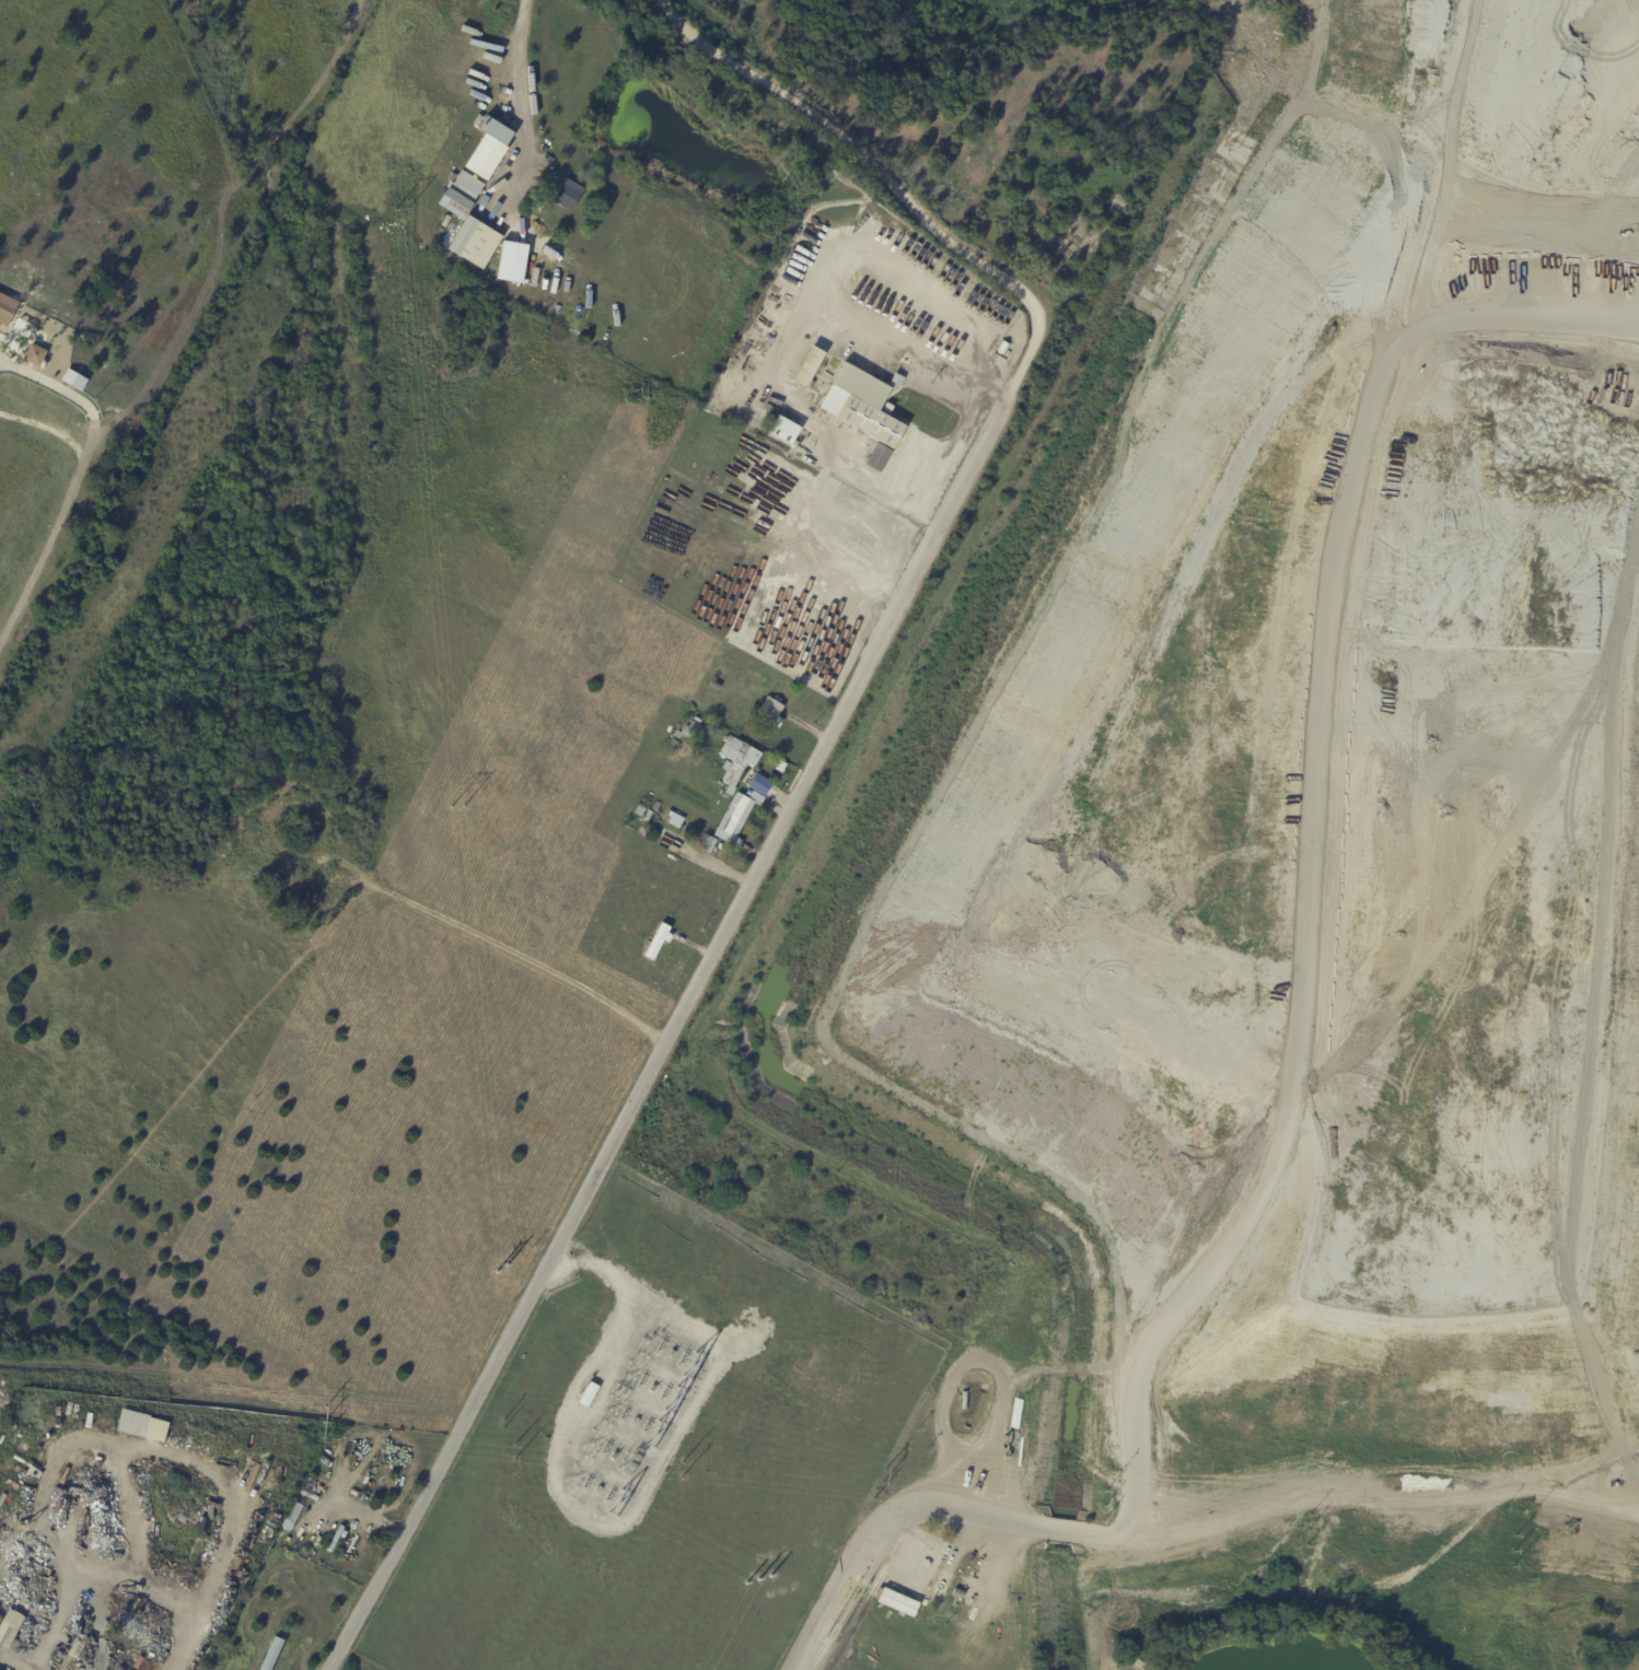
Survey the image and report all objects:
road: (521, 101)
building: (479, 168)
building: (452, 177)
road: (887, 183)
building: (567, 196)
building: (536, 205)
building: (453, 206)
building: (474, 242)
building: (511, 261)
building: (7, 308)
road: (782, 344)
building: (34, 354)
building: (807, 366)
building: (862, 405)
building: (784, 430)
building: (877, 457)
road: (1323, 662)
building: (716, 685)
building: (770, 712)
building: (689, 727)
building: (735, 761)
building: (752, 779)
building: (232, 790)
landfill: (1311, 795)
building: (736, 818)
building: (649, 819)
building: (672, 822)
building: (707, 844)
building: (656, 942)
road: (664, 1036)
building: (589, 1393)
power tower: (323, 1422)
power tower: (498, 1423)
building: (158, 1429)
building: (38, 1445)
power tower: (512, 1450)
power substation: (656, 1458)
power tower: (682, 1469)
power tower: (881, 1483)
power tower: (1102, 1507)
power tower: (1307, 1529)
road: (1088, 1533)
power tower: (1512, 1551)
power tower: (755, 1579)
building: (940, 1590)
building: (11, 1628)
road: (11, 1663)

